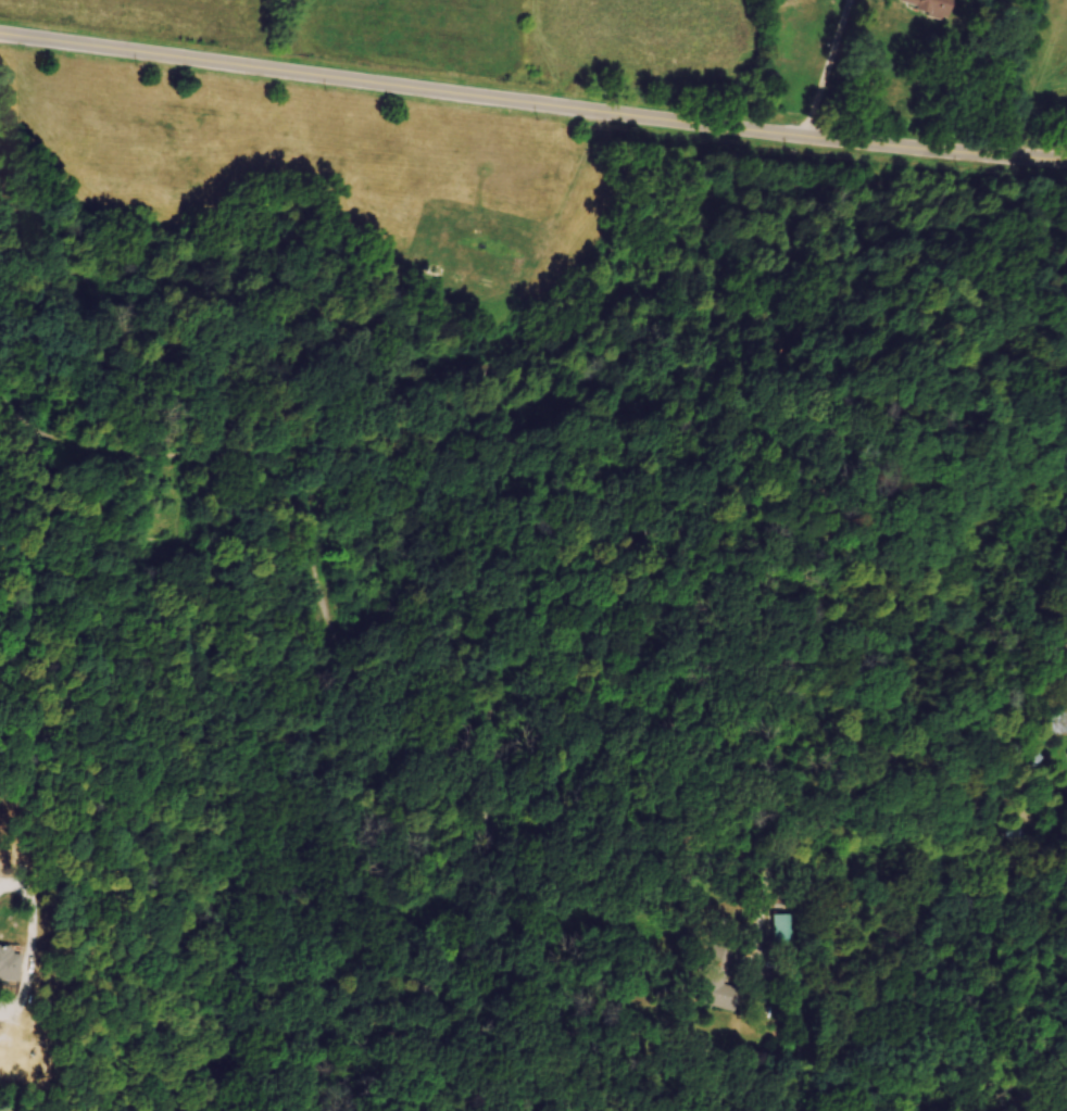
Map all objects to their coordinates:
road: (827, 68)
road: (532, 100)
park: (1042, 296)
road: (1059, 343)
park: (518, 490)
road: (990, 702)
building: (1062, 722)
road: (544, 791)
building: (1001, 824)
road: (1041, 824)
road: (802, 835)
building: (791, 927)
road: (33, 947)
building: (14, 969)
building: (725, 979)

